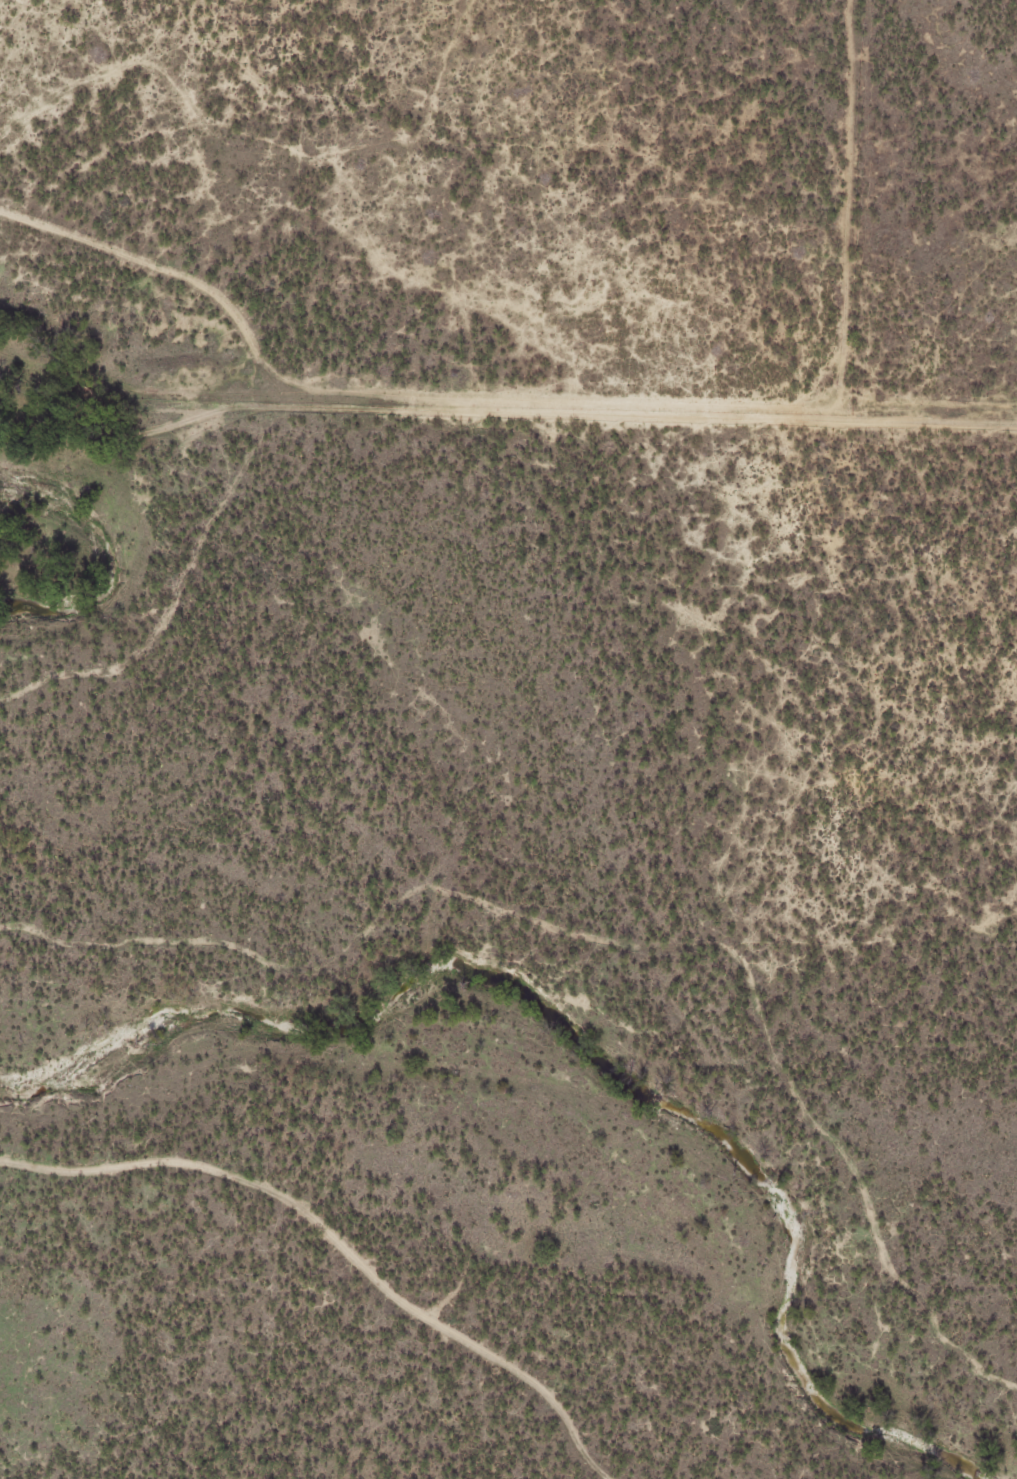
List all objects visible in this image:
river: (115, 555)
river: (560, 1049)
road: (358, 1250)

